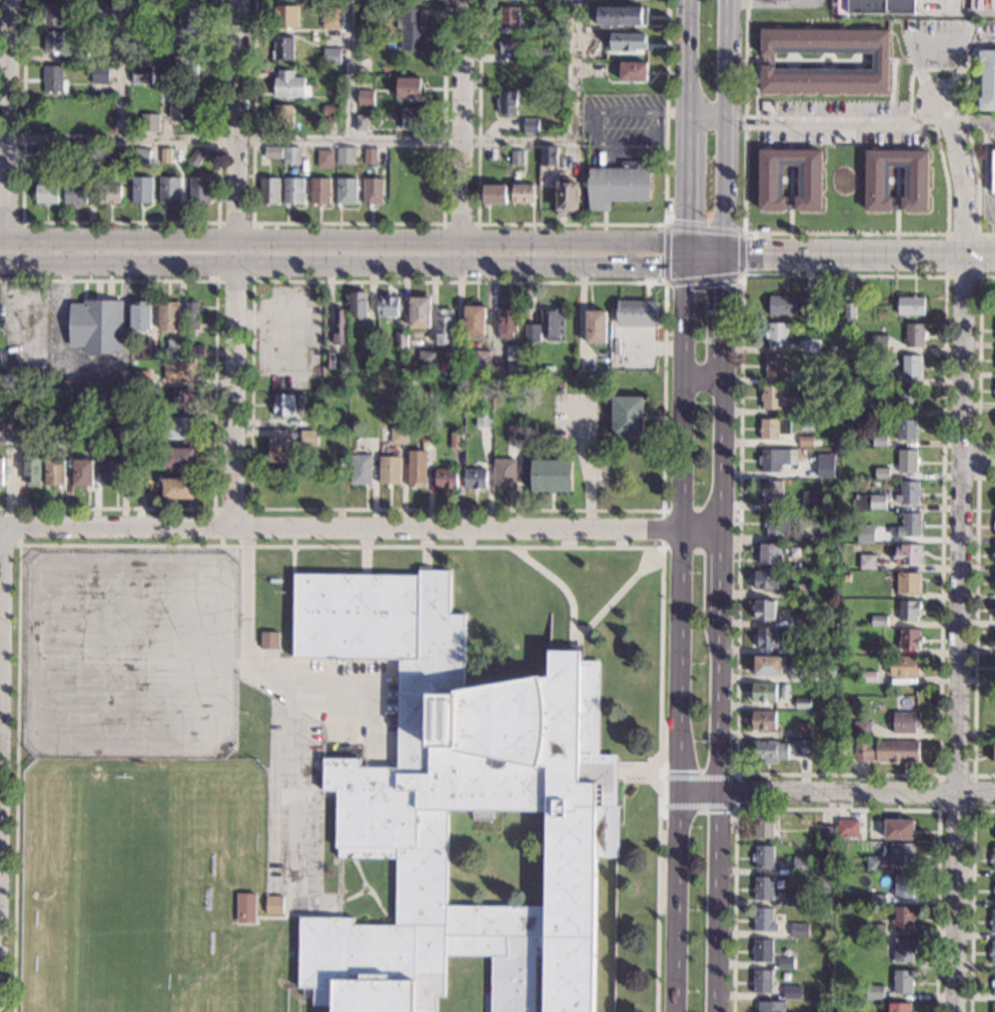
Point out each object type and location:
road: (747, 1)
building: (555, 2)
building: (881, 6)
building: (842, 7)
building: (103, 10)
building: (363, 11)
building: (384, 11)
building: (52, 14)
building: (286, 16)
building: (508, 16)
building: (619, 16)
building: (853, 16)
building: (330, 17)
building: (189, 19)
building: (536, 27)
building: (410, 29)
building: (163, 37)
building: (134, 40)
building: (628, 41)
building: (52, 42)
building: (512, 44)
building: (283, 48)
building: (540, 53)
building: (331, 57)
building: (78, 58)
building: (880, 60)
building: (185, 63)
road: (689, 65)
road: (121, 69)
road: (349, 70)
road: (575, 70)
building: (600, 70)
building: (511, 71)
building: (633, 71)
building: (99, 74)
building: (141, 75)
building: (368, 77)
building: (53, 79)
building: (987, 80)
building: (538, 83)
building: (289, 85)
building: (409, 87)
building: (364, 98)
building: (507, 102)
building: (181, 107)
building: (330, 111)
road: (676, 111)
road: (659, 112)
building: (283, 116)
building: (412, 117)
road: (971, 120)
road: (724, 121)
building: (149, 122)
building: (360, 122)
road: (817, 122)
building: (542, 123)
building: (531, 126)
road: (3, 130)
road: (464, 131)
road: (292, 140)
road: (595, 142)
road: (689, 147)
building: (273, 152)
building: (51, 154)
building: (121, 155)
building: (141, 155)
building: (164, 155)
building: (291, 155)
building: (344, 155)
building: (369, 156)
building: (548, 156)
building: (196, 157)
building: (429, 157)
building: (517, 157)
building: (324, 158)
building: (87, 162)
road: (986, 168)
building: (310, 170)
building: (992, 171)
road: (962, 177)
building: (415, 179)
building: (810, 181)
building: (917, 181)
building: (618, 185)
building: (141, 189)
building: (168, 189)
building: (73, 190)
building: (199, 190)
building: (268, 190)
building: (372, 190)
building: (293, 191)
building: (319, 191)
building: (346, 191)
building: (46, 193)
building: (109, 193)
building: (404, 193)
building: (429, 193)
building: (523, 193)
building: (494, 194)
building: (568, 195)
road: (689, 214)
traffic signals: (689, 220)
road: (119, 221)
road: (347, 222)
road: (571, 223)
building: (764, 229)
road: (478, 233)
road: (933, 233)
road: (20, 240)
road: (362, 241)
road: (733, 249)
road: (868, 253)
road: (724, 254)
traffic signals: (749, 254)
road: (733, 259)
road: (233, 262)
road: (345, 262)
road: (707, 264)
traffic signals: (658, 265)
road: (665, 274)
road: (977, 275)
road: (216, 280)
road: (664, 282)
building: (790, 303)
building: (357, 304)
traffic signals: (722, 304)
building: (911, 305)
building: (387, 306)
road: (722, 311)
building: (849, 311)
building: (420, 313)
building: (637, 313)
building: (140, 315)
building: (191, 315)
building: (168, 316)
building: (507, 320)
building: (474, 321)
road: (687, 322)
building: (553, 324)
building: (95, 326)
building: (444, 326)
building: (338, 327)
building: (596, 327)
building: (532, 333)
building: (776, 334)
building: (915, 335)
building: (400, 340)
building: (879, 344)
building: (174, 347)
building: (810, 347)
building: (194, 351)
building: (361, 352)
building: (513, 352)
building: (426, 359)
building: (482, 359)
road: (978, 359)
building: (0, 360)
building: (328, 360)
building: (369, 360)
building: (585, 365)
building: (774, 365)
building: (911, 367)
road: (722, 369)
building: (179, 371)
building: (810, 376)
building: (139, 378)
building: (882, 378)
road: (704, 379)
building: (994, 391)
road: (214, 393)
building: (772, 398)
building: (908, 398)
building: (184, 399)
building: (282, 405)
building: (874, 406)
building: (160, 408)
building: (806, 408)
building: (627, 416)
building: (484, 417)
building: (402, 420)
building: (130, 421)
building: (23, 427)
building: (179, 427)
building: (773, 427)
building: (906, 429)
building: (89, 430)
building: (0, 432)
building: (118, 433)
building: (397, 434)
building: (427, 434)
building: (513, 434)
building: (62, 435)
building: (308, 438)
building: (360, 440)
building: (456, 440)
building: (805, 441)
building: (880, 441)
building: (817, 442)
building: (278, 450)
road: (721, 455)
building: (178, 457)
building: (775, 459)
building: (907, 460)
road: (978, 460)
road: (978, 462)
building: (825, 465)
building: (416, 468)
building: (360, 469)
building: (389, 470)
building: (0, 471)
building: (31, 471)
building: (803, 471)
building: (54, 472)
building: (81, 472)
building: (110, 473)
building: (882, 473)
building: (504, 474)
building: (551, 475)
building: (446, 478)
building: (475, 478)
building: (304, 479)
building: (335, 479)
building: (178, 488)
building: (771, 492)
building: (908, 492)
building: (811, 500)
building: (870, 502)
road: (213, 508)
road: (682, 510)
building: (775, 523)
building: (908, 525)
building: (994, 525)
road: (360, 526)
building: (827, 532)
building: (865, 533)
road: (8, 544)
road: (338, 545)
building: (769, 553)
building: (994, 554)
building: (906, 555)
building: (867, 562)
road: (0, 569)
road: (720, 572)
building: (846, 576)
building: (765, 580)
building: (908, 583)
building: (994, 583)
building: (804, 590)
building: (764, 609)
building: (909, 610)
building: (796, 617)
building: (879, 619)
road: (975, 628)
road: (960, 632)
road: (576, 636)
building: (766, 637)
building: (909, 638)
building: (268, 640)
building: (801, 648)
road: (245, 649)
building: (831, 660)
building: (807, 662)
building: (768, 666)
building: (904, 666)
building: (867, 676)
building: (763, 692)
road: (680, 695)
building: (802, 703)
building: (763, 720)
building: (905, 721)
building: (802, 729)
building: (862, 729)
building: (801, 748)
building: (770, 751)
building: (887, 751)
parking lot: (316, 752)
building: (994, 754)
building: (341, 755)
road: (697, 773)
road: (737, 774)
road: (736, 791)
road: (837, 795)
building: (456, 804)
road: (697, 809)
road: (836, 809)
road: (972, 810)
road: (722, 812)
building: (763, 826)
building: (848, 827)
building: (899, 829)
building: (826, 834)
building: (902, 854)
building: (763, 857)
building: (992, 858)
building: (873, 864)
building: (801, 865)
building: (903, 886)
building: (762, 888)
building: (994, 889)
road: (366, 892)
road: (371, 892)
park: (122, 893)
road: (356, 895)
building: (793, 898)
building: (878, 899)
building: (994, 899)
road: (971, 900)
building: (273, 905)
building: (245, 907)
building: (903, 917)
building: (763, 919)
building: (993, 921)
building: (876, 929)
building: (799, 930)
building: (903, 949)
building: (762, 950)
building: (992, 952)
building: (786, 963)
building: (761, 981)
building: (902, 981)
building: (994, 982)
building: (792, 991)
building: (874, 992)
building: (770, 1007)
building: (898, 1007)
building: (993, 1007)

